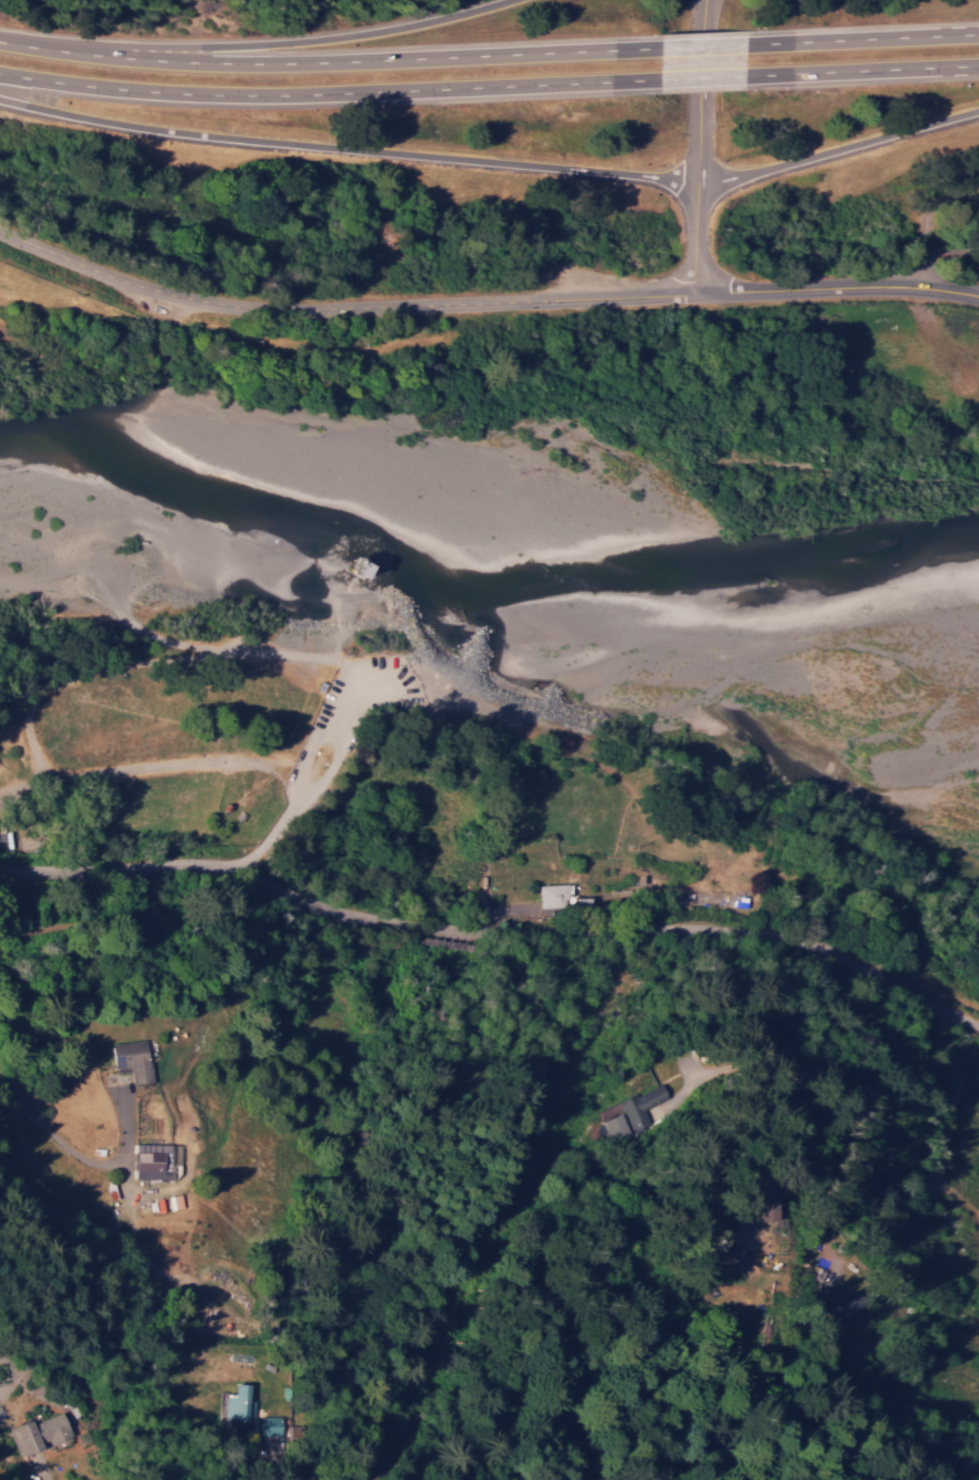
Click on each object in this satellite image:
road: (861, 39)
road: (302, 42)
road: (691, 47)
road: (319, 61)
road: (861, 70)
road: (686, 80)
road: (313, 94)
road: (695, 148)
road: (492, 165)
road: (840, 288)
road: (345, 310)
river: (261, 566)
river: (645, 656)
river: (867, 748)
building: (553, 895)
building: (734, 901)
road: (493, 929)
railway: (489, 965)
building: (134, 1058)
building: (642, 1105)
building: (617, 1126)
building: (154, 1160)
road: (45, 1324)
building: (238, 1402)
building: (271, 1427)
building: (80, 1431)
building: (39, 1433)

